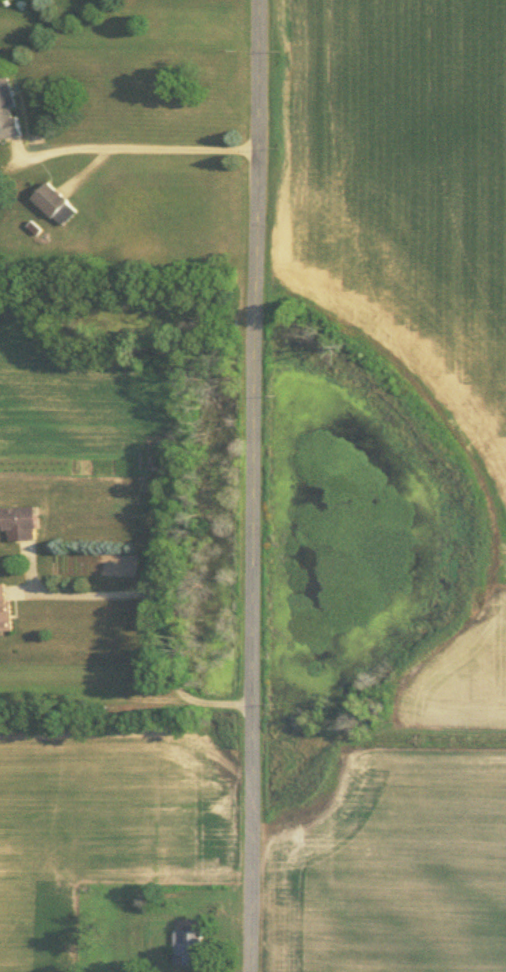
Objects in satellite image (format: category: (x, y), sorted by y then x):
building: (8, 109)
road: (136, 149)
crop: (406, 197)
building: (55, 202)
road: (252, 485)
building: (20, 521)
building: (5, 610)
road: (169, 617)
crop: (467, 698)
crop: (95, 824)
crop: (407, 869)
building: (187, 946)

